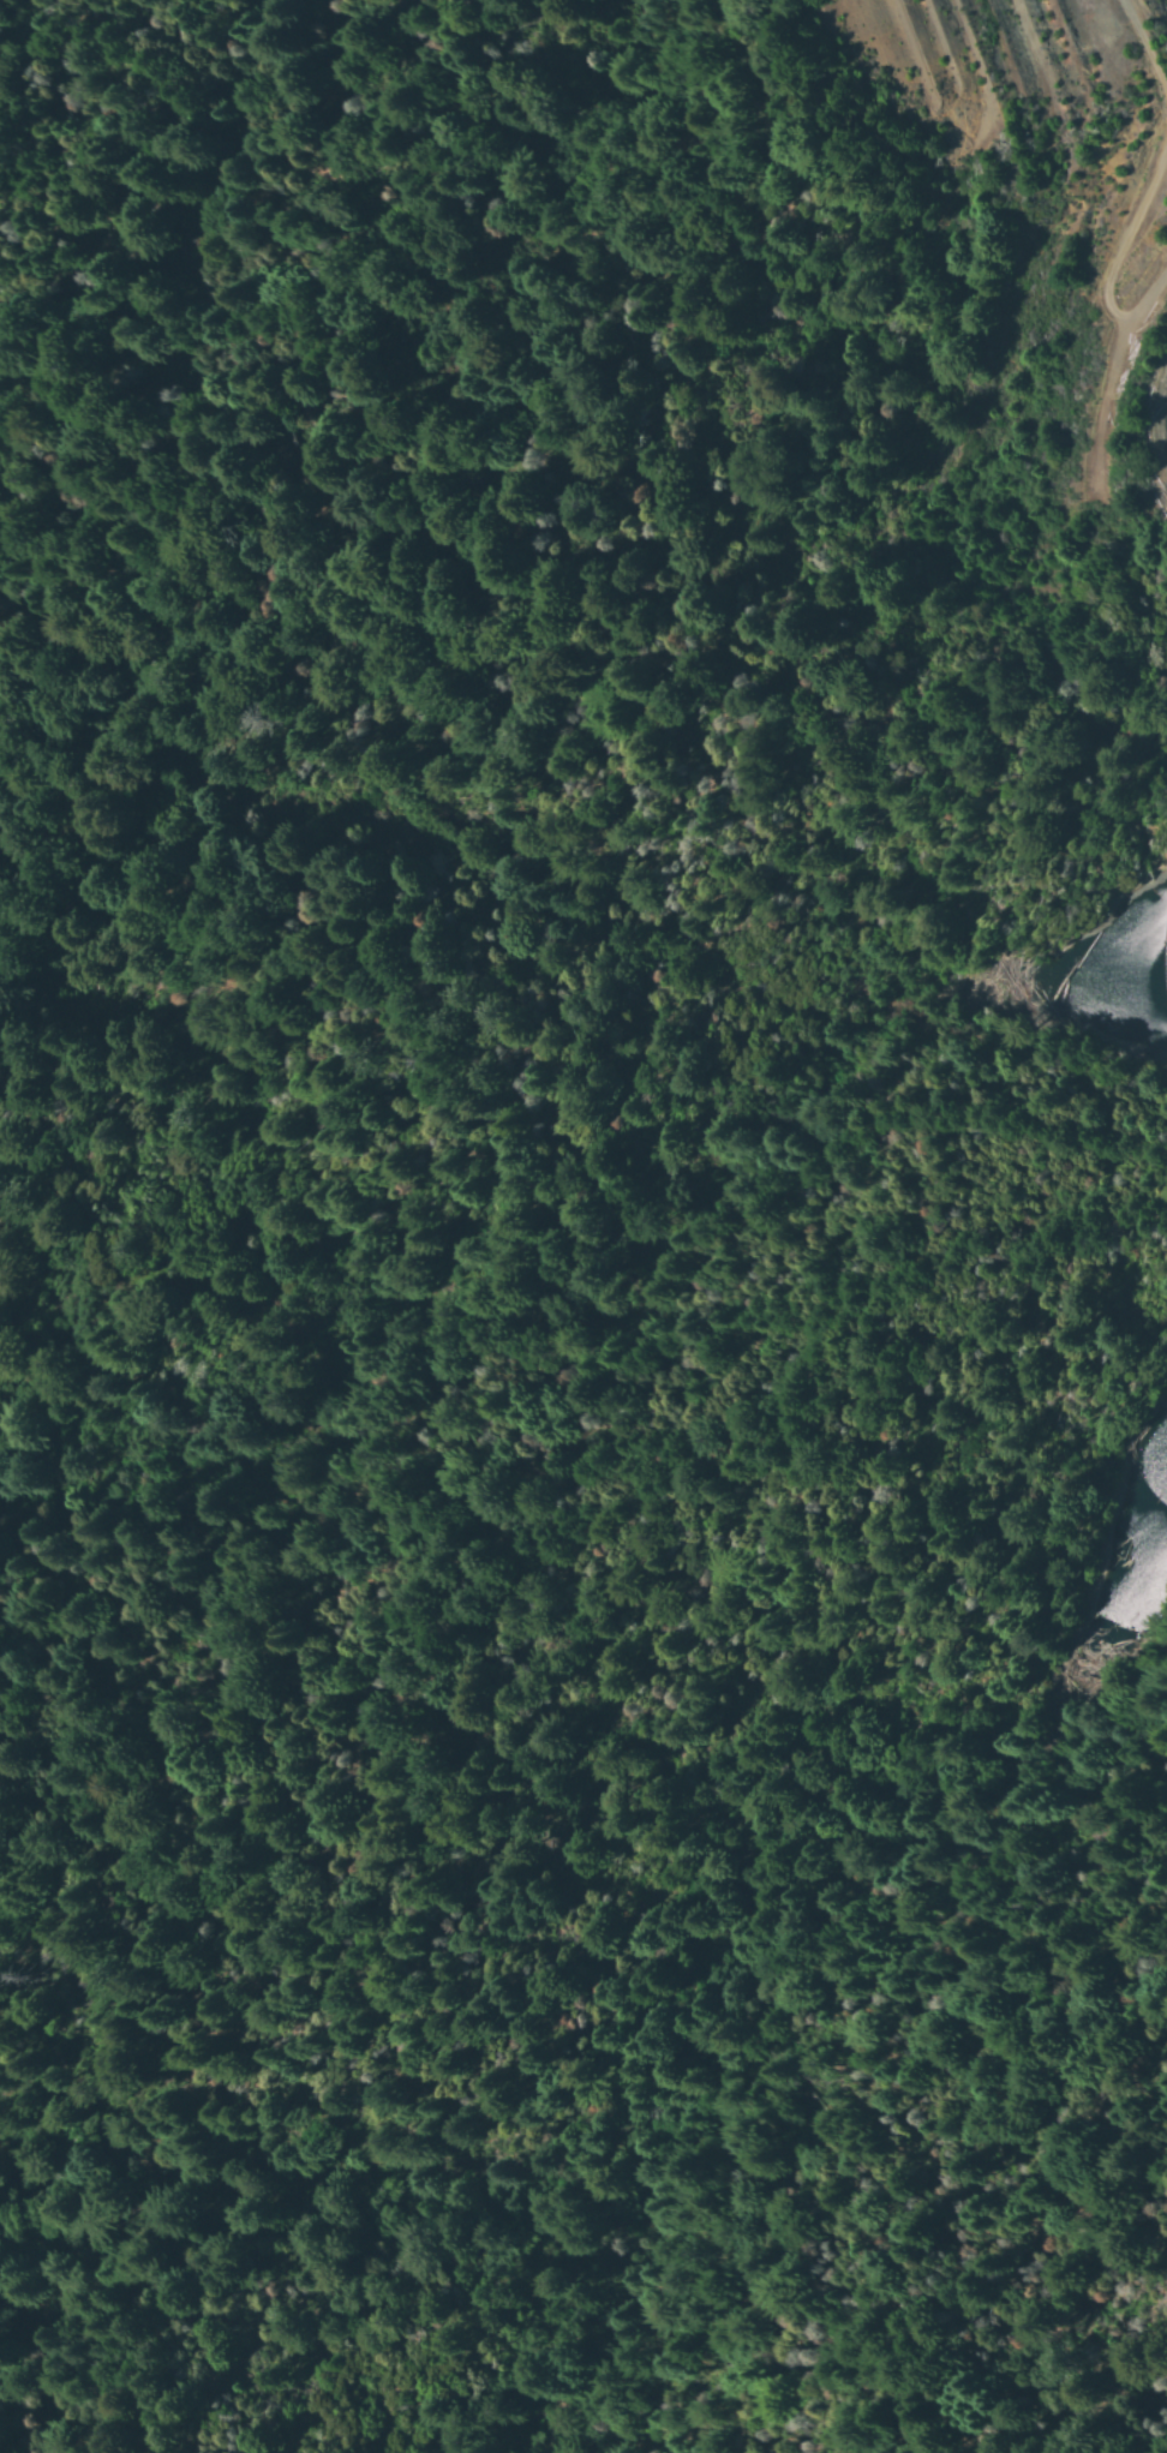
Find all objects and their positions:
road: (1147, 42)
road: (1120, 258)

